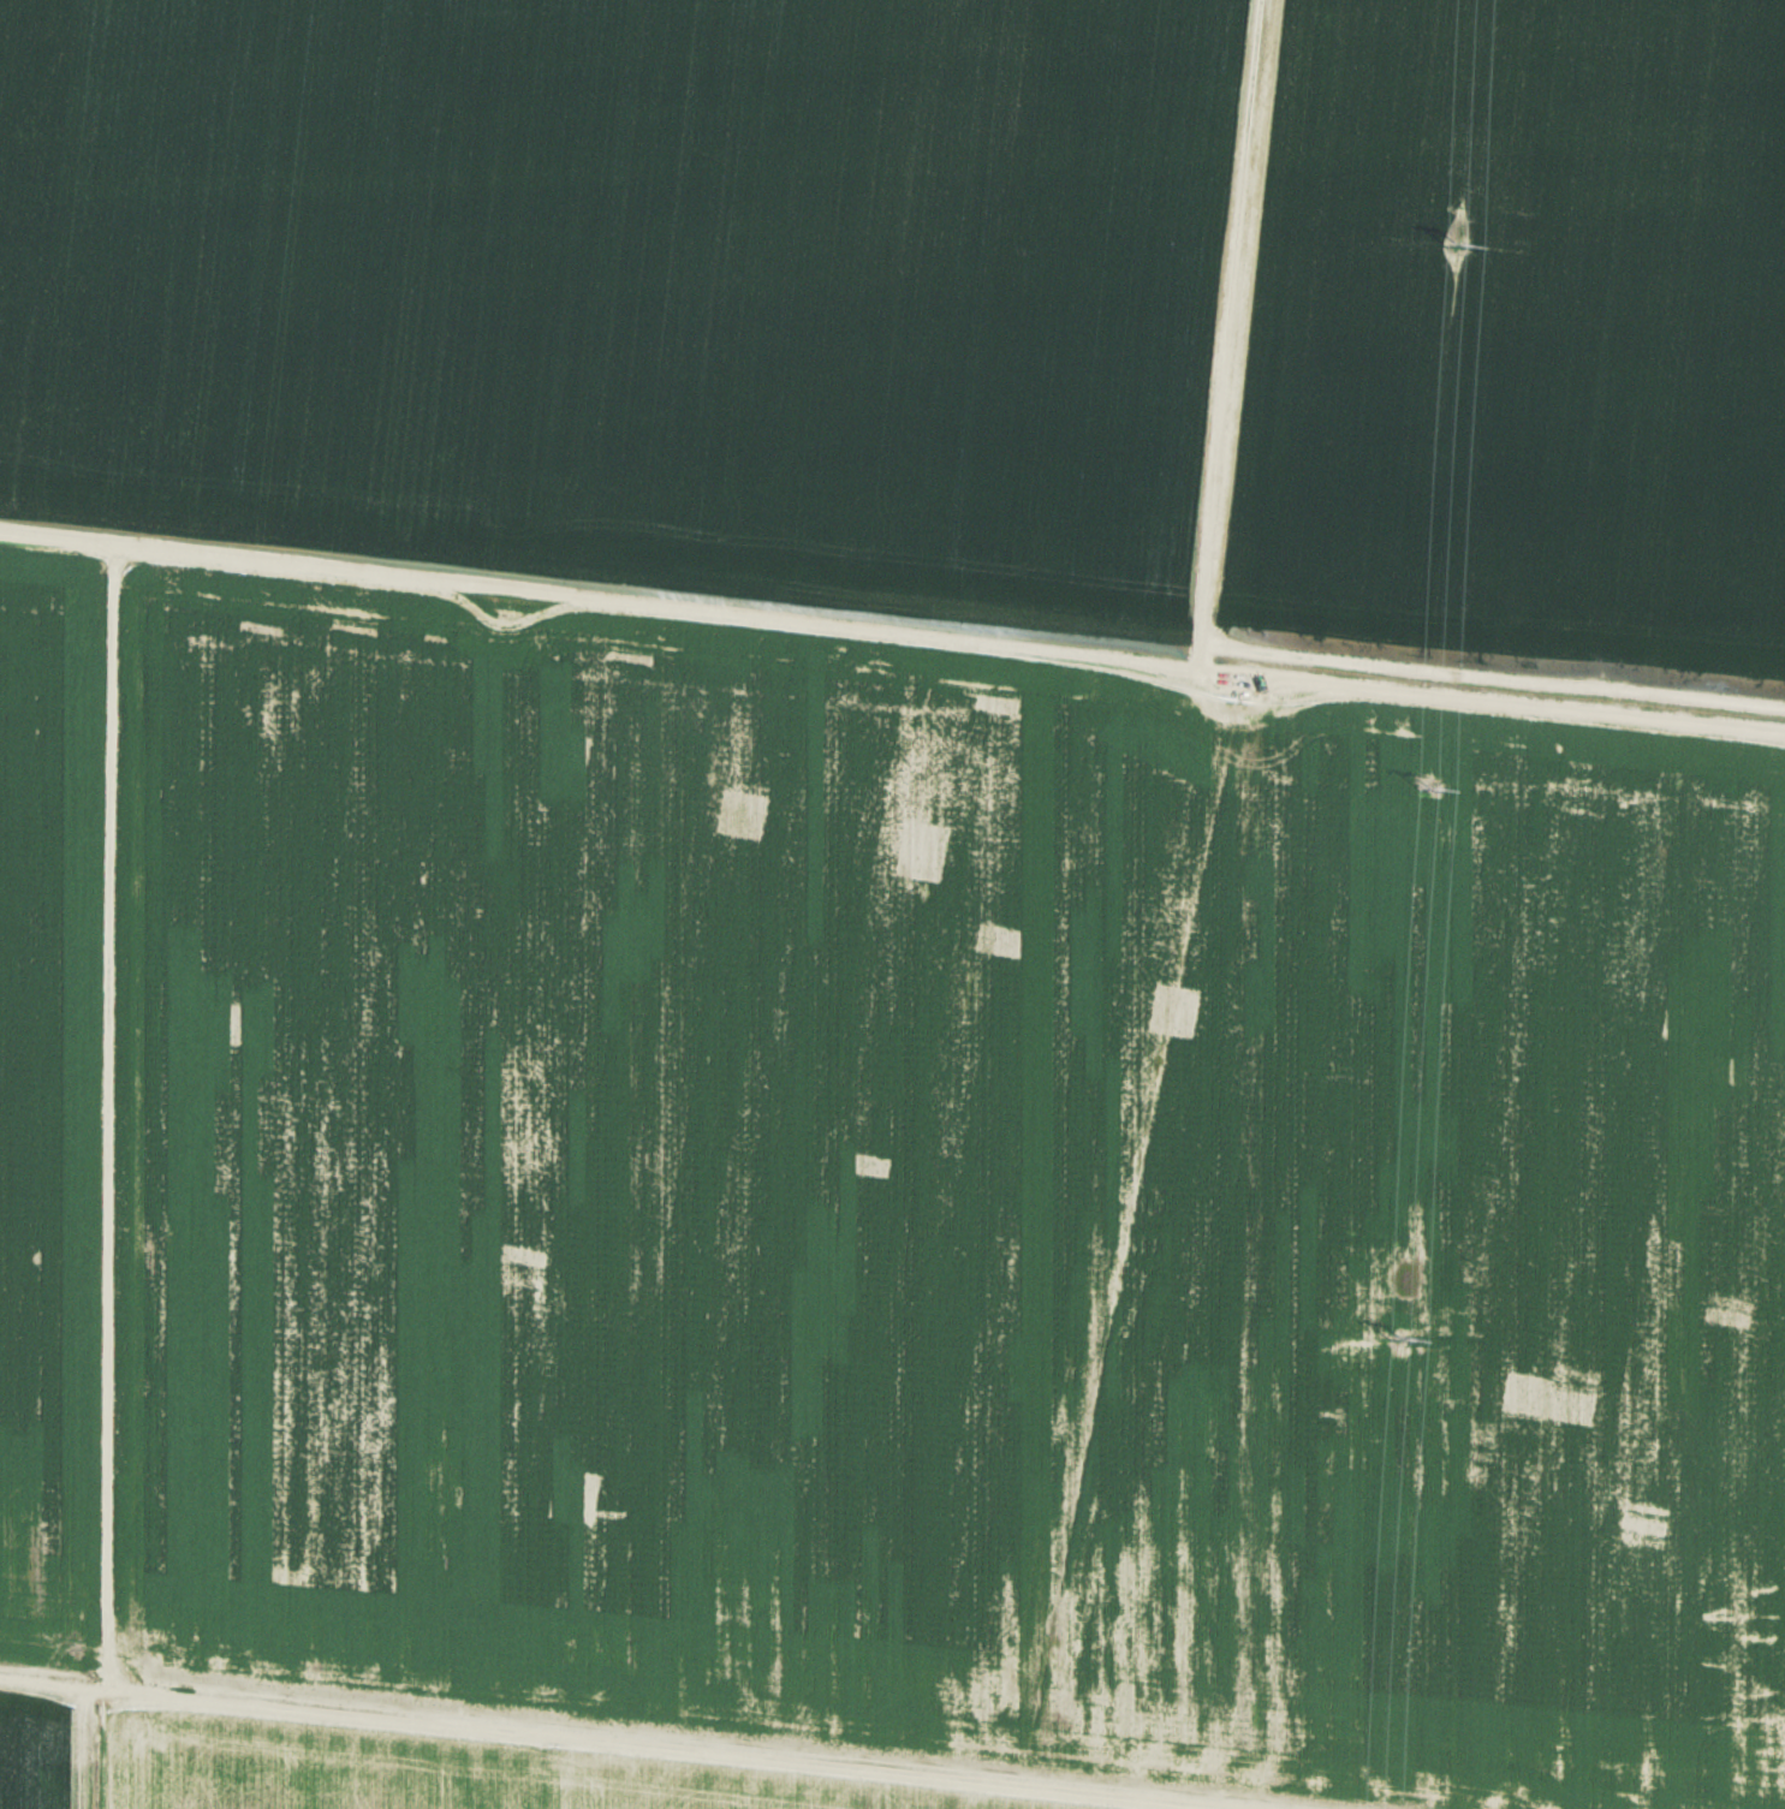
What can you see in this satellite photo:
power tower: (1457, 250)
power tower: (1429, 789)
power tower: (1399, 1339)

